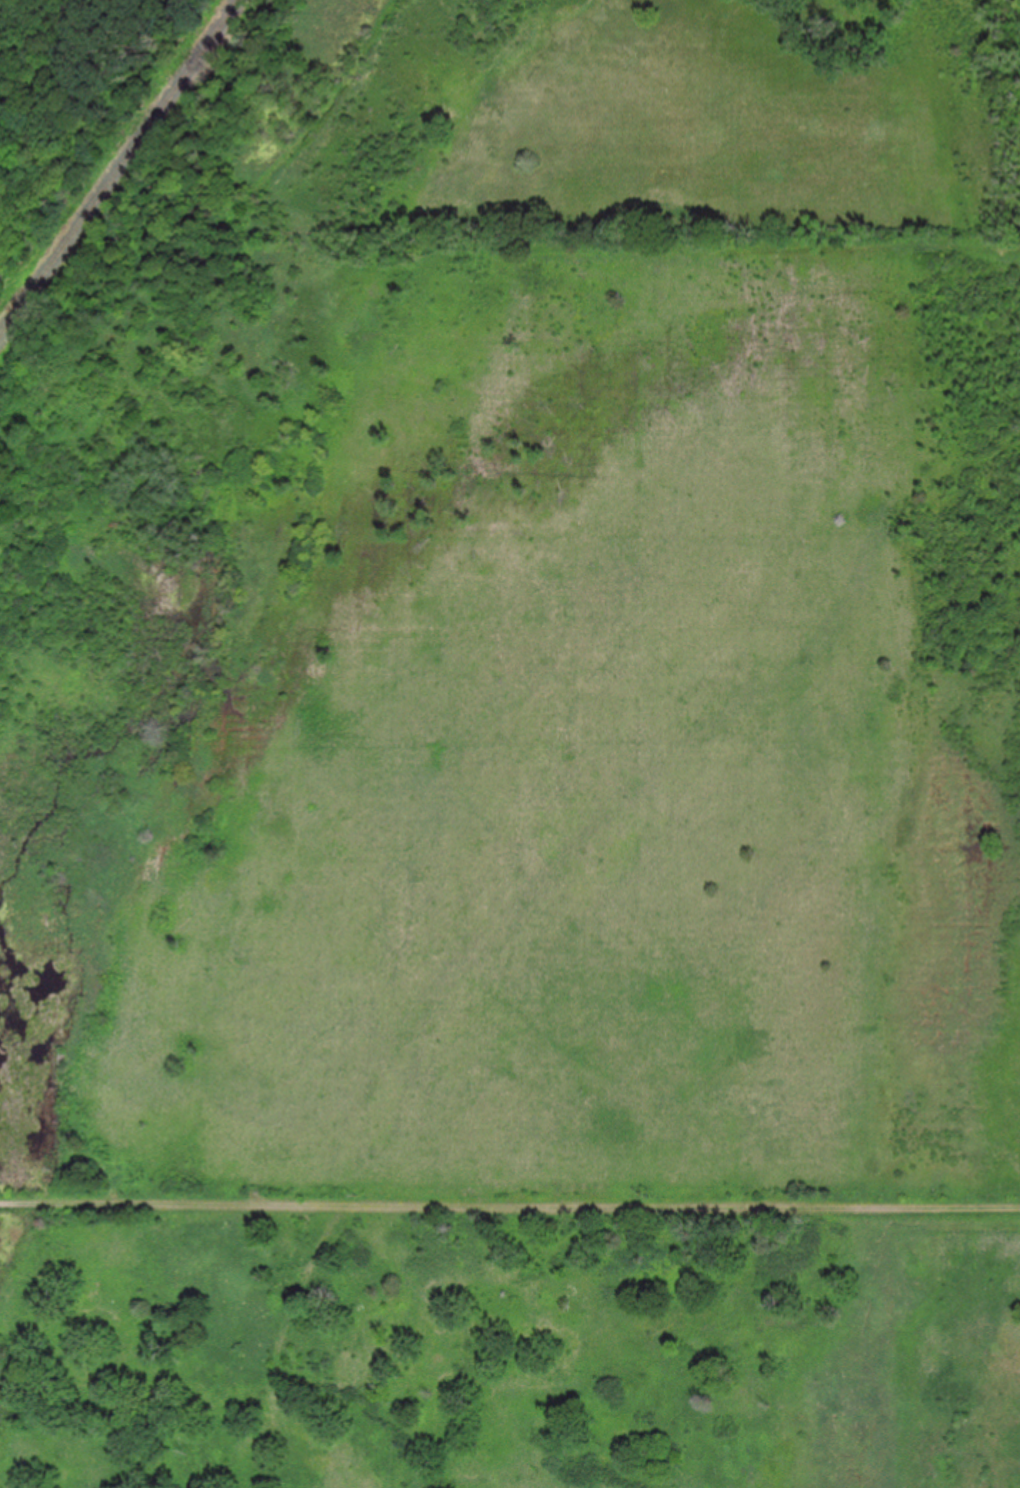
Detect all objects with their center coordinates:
railway: (119, 168)
park: (509, 862)
road: (510, 1204)

